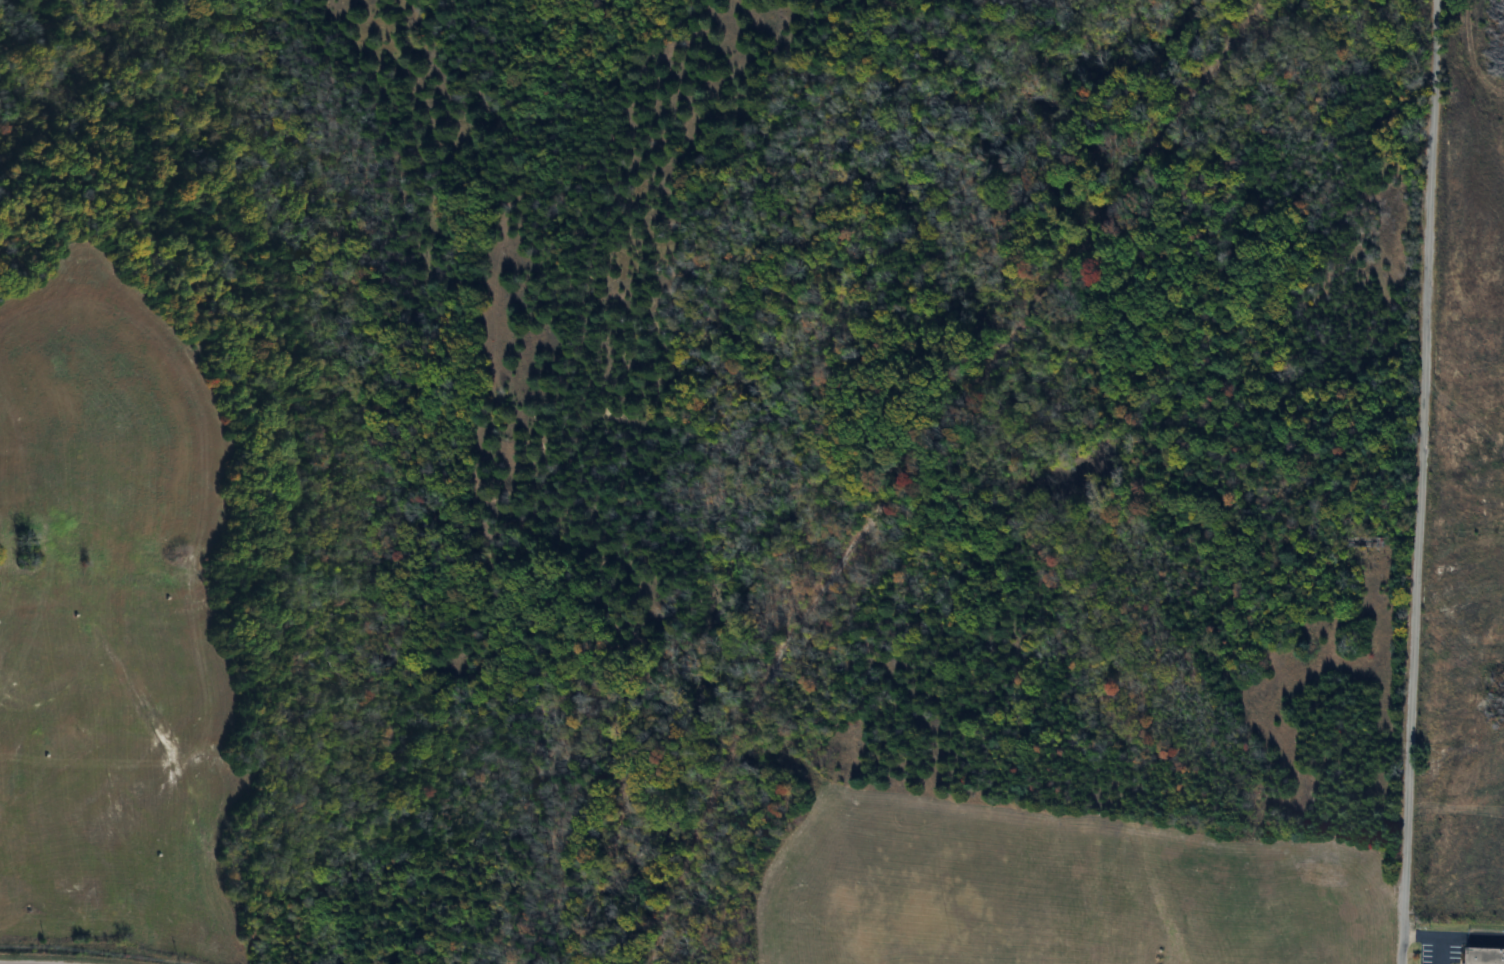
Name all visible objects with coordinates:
road: (1419, 482)
building: (1362, 541)
road: (1431, 938)
building: (1483, 956)

